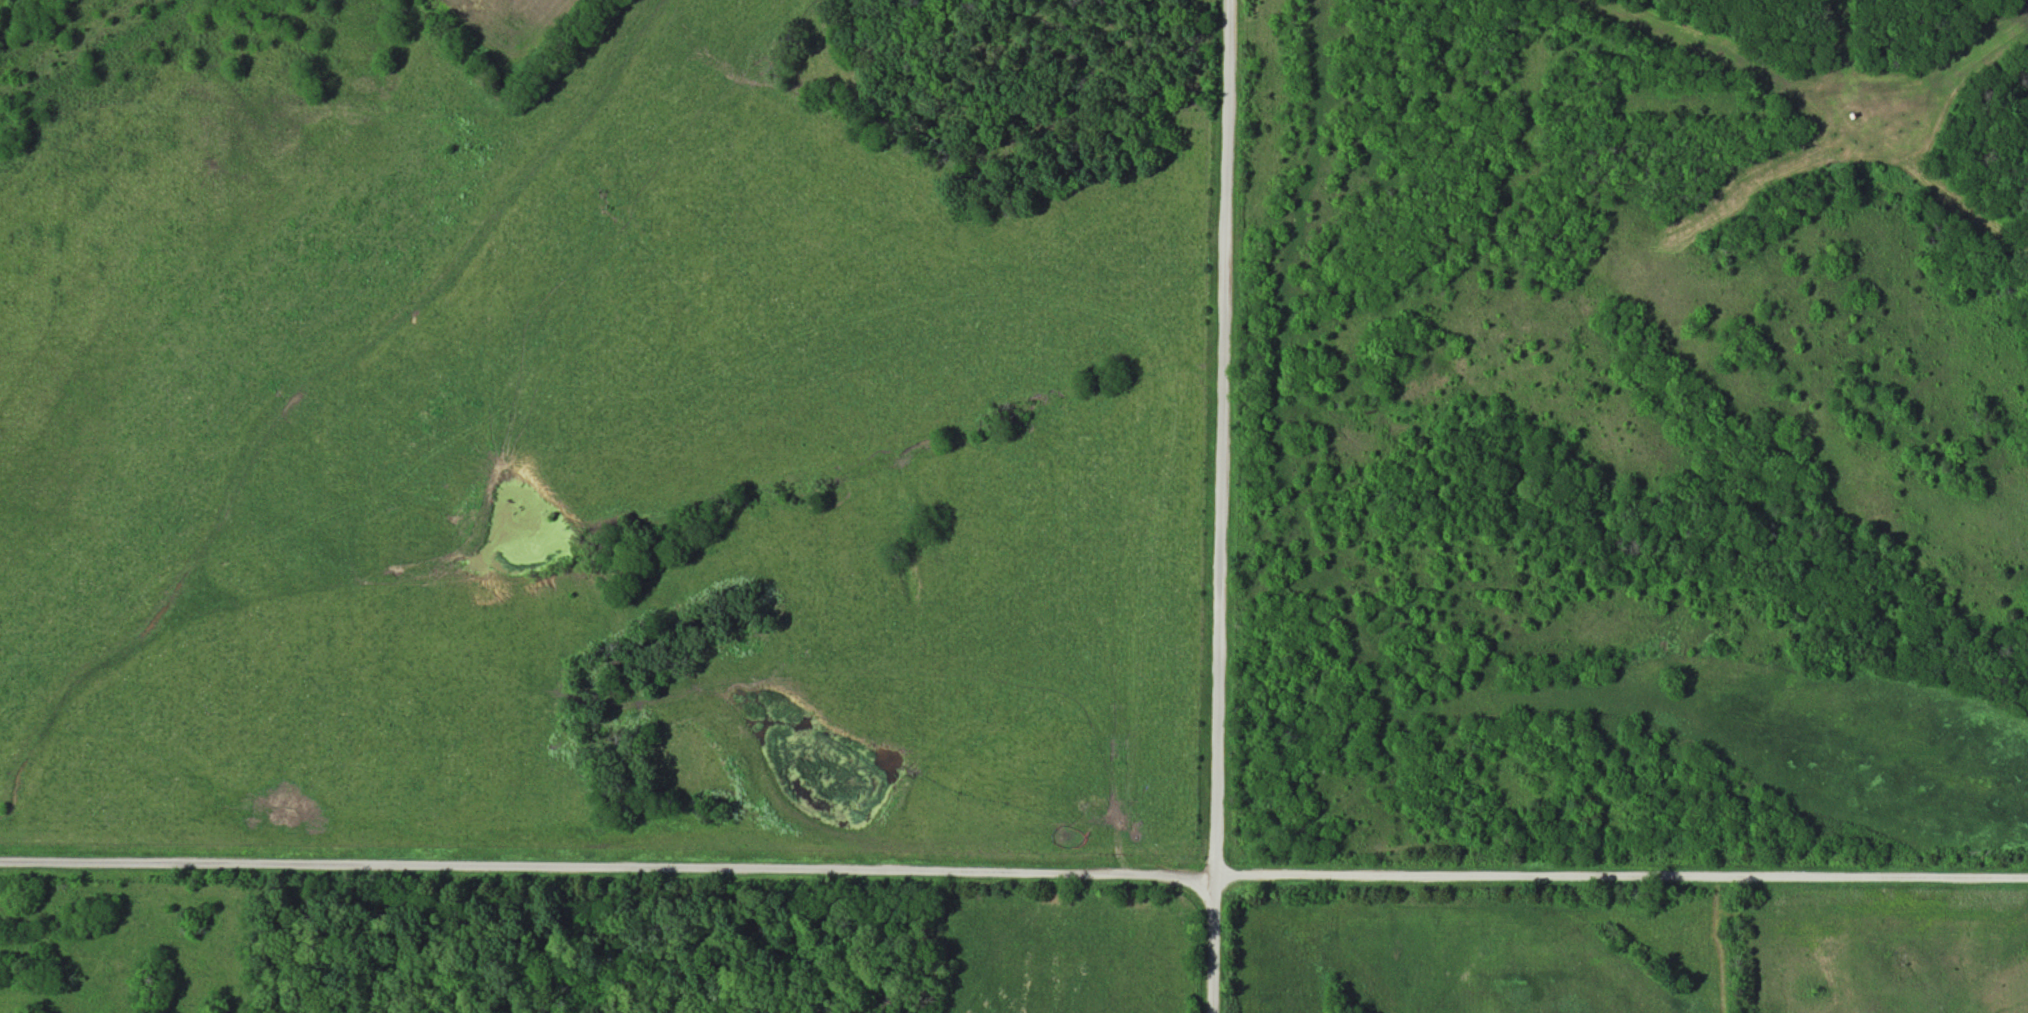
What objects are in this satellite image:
road: (1220, 506)
road: (606, 868)
road: (1620, 876)

